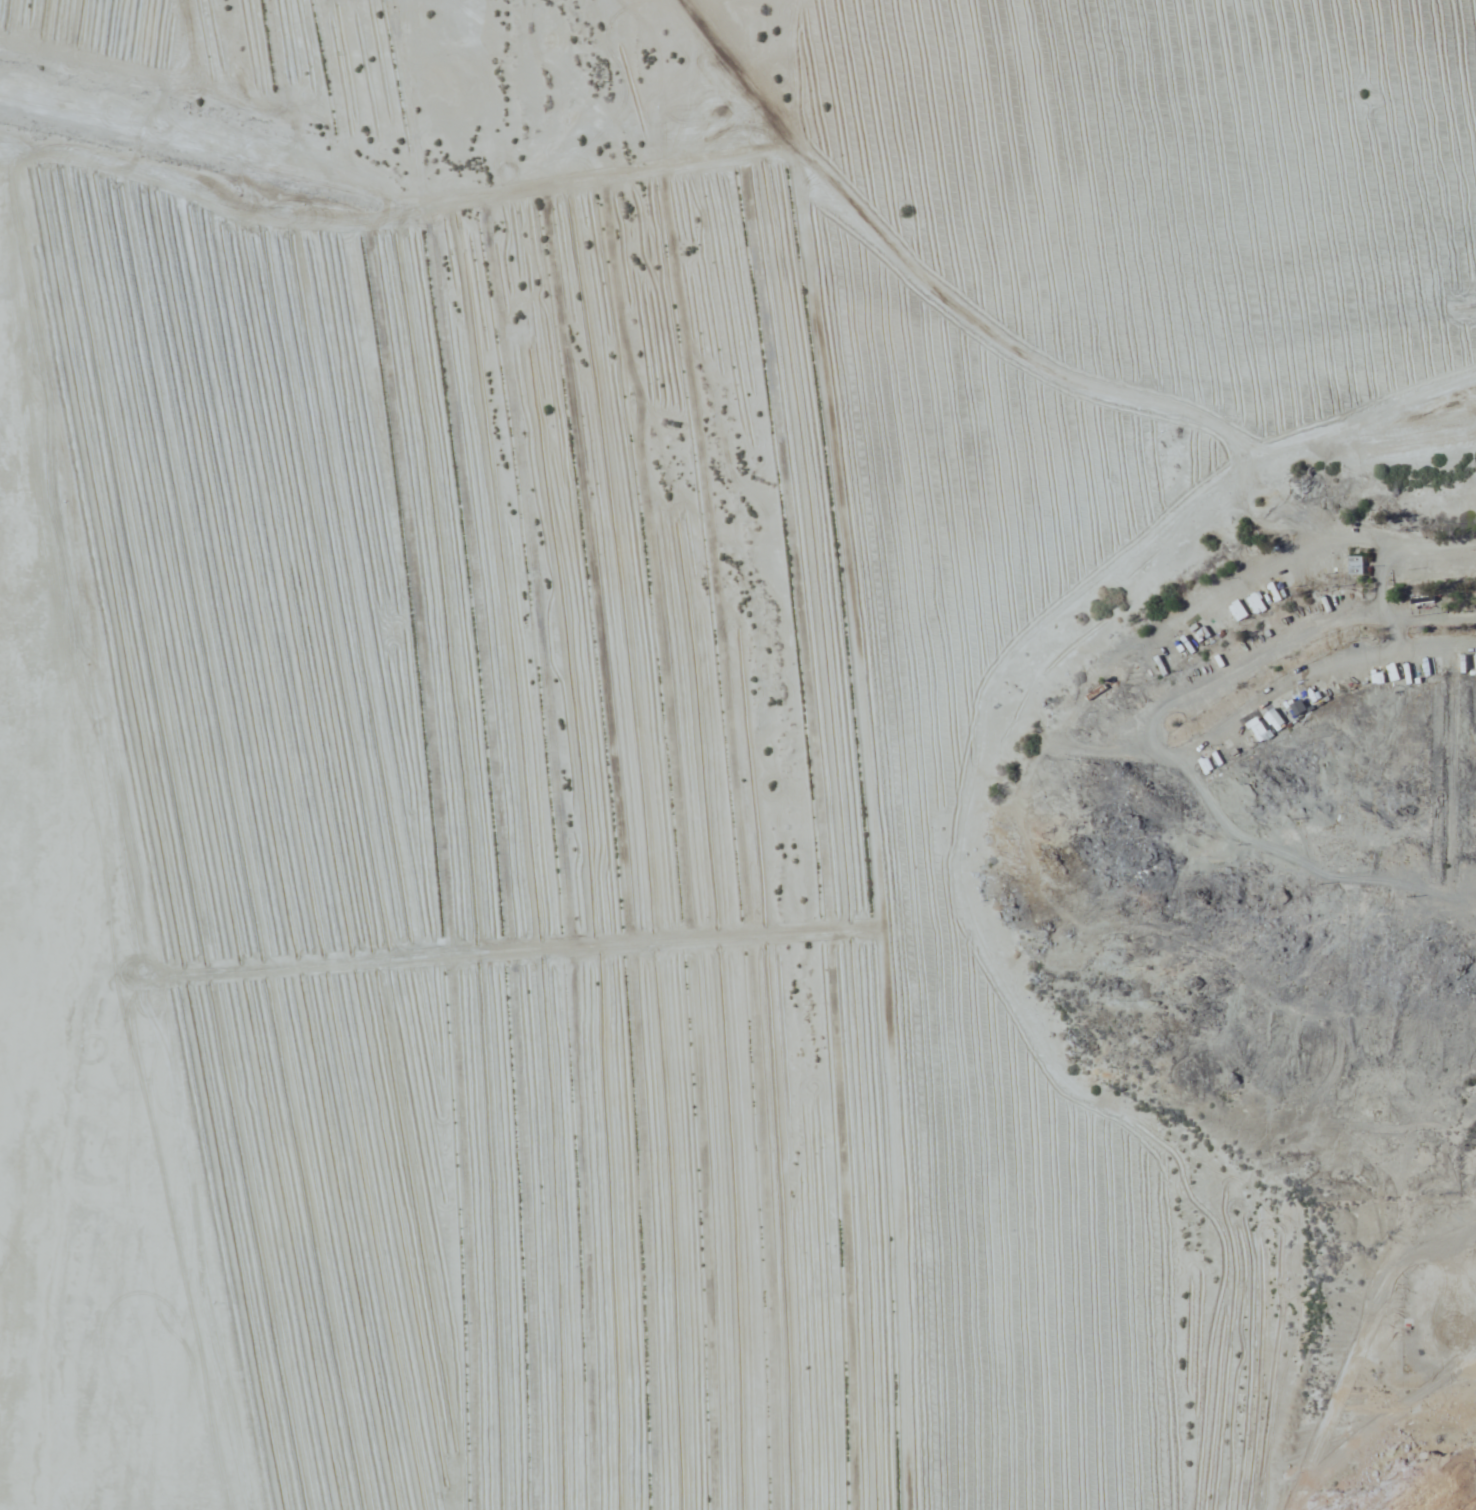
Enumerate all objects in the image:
building: (1356, 563)
building: (1255, 601)
building: (1238, 609)
building: (1275, 717)

